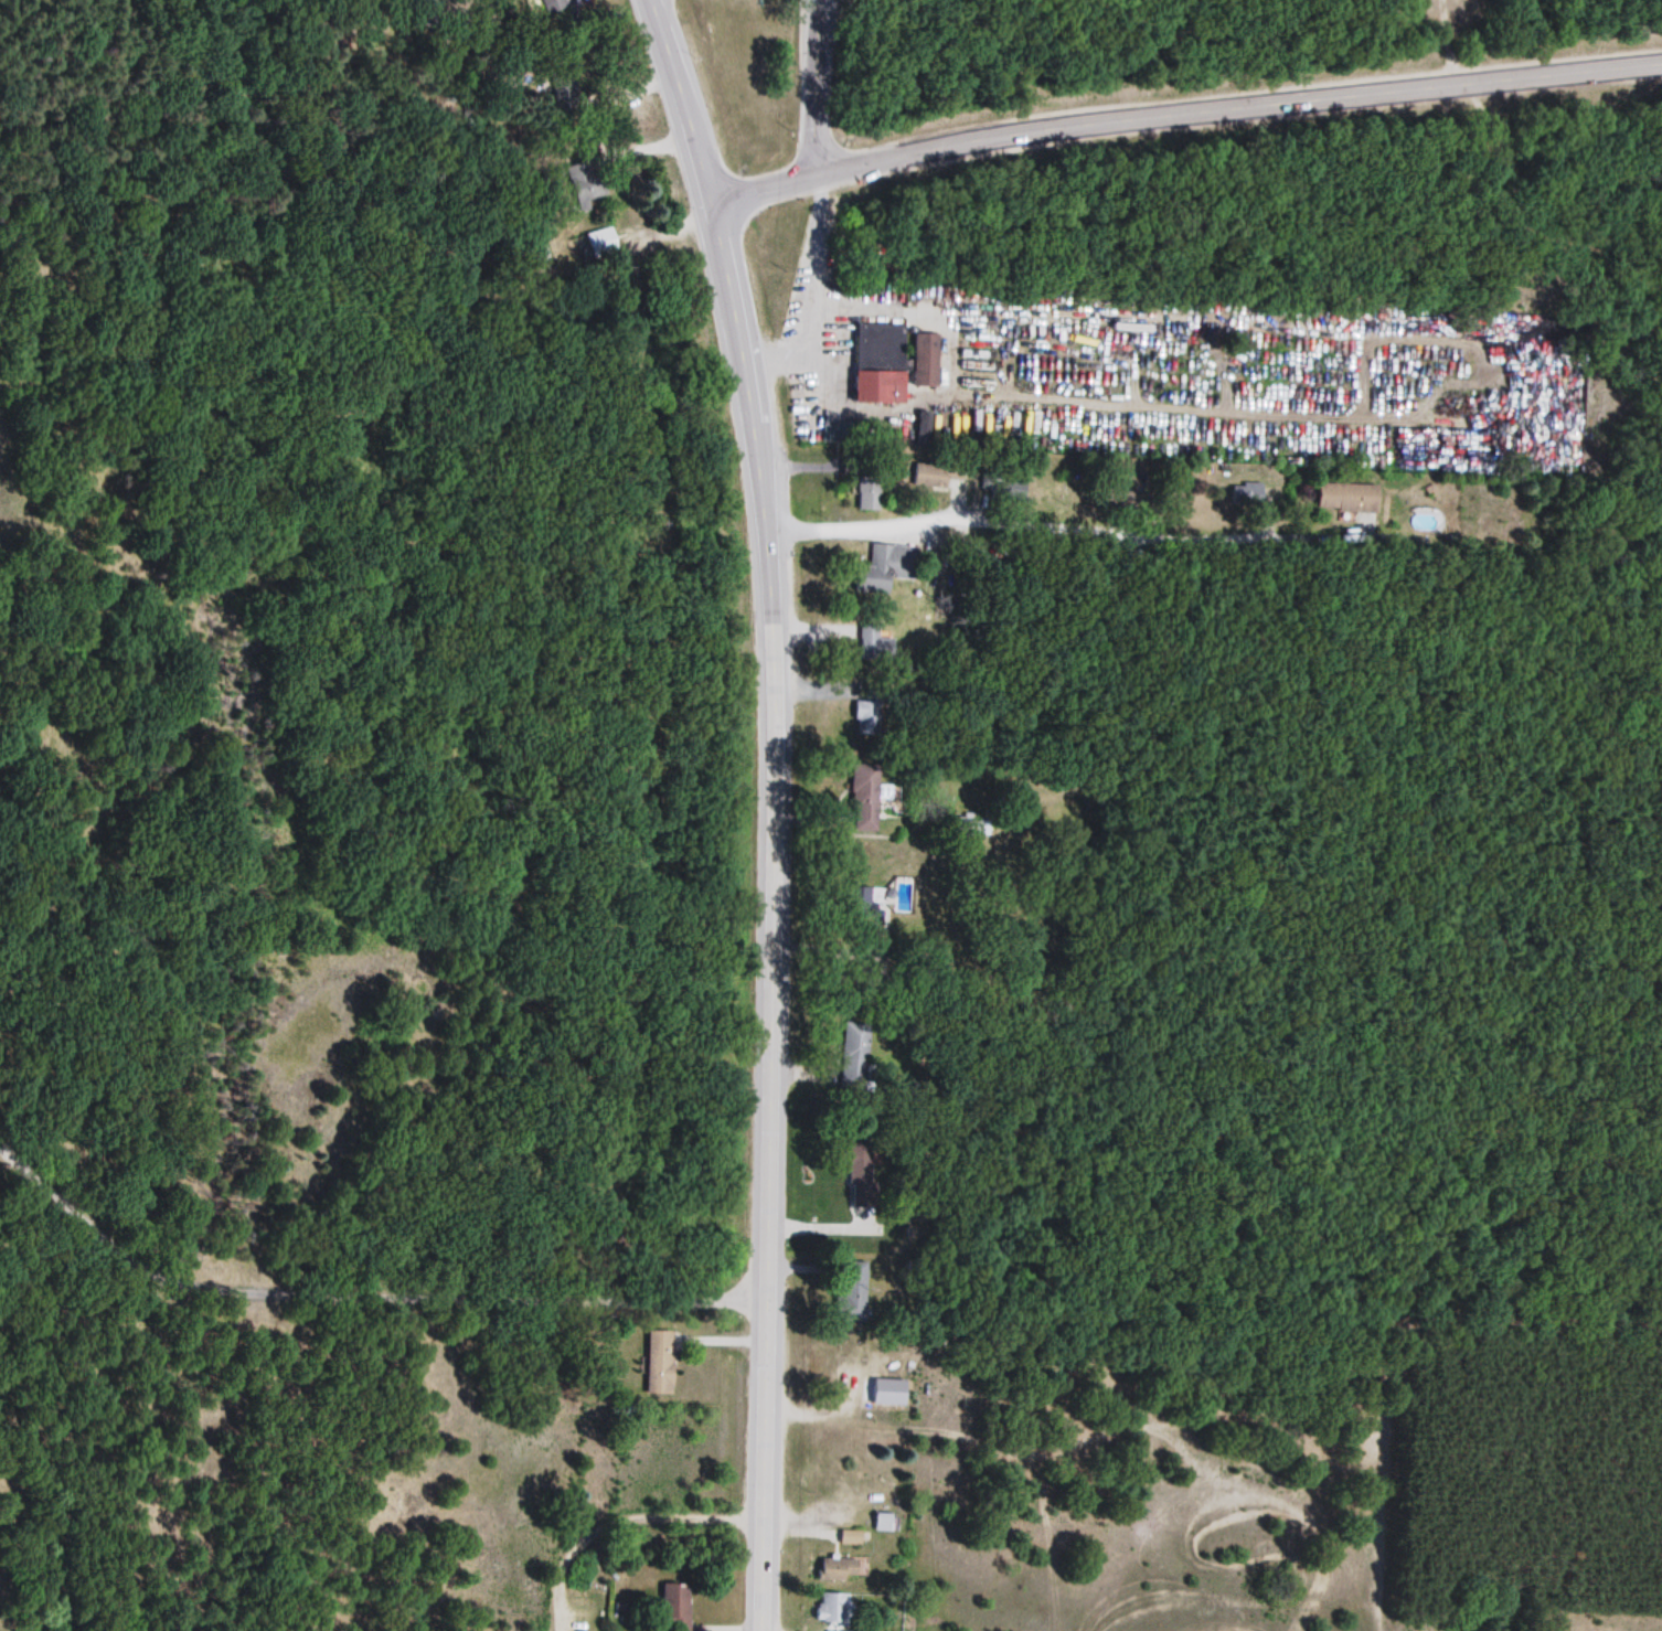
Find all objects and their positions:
building: (548, 3)
road: (812, 90)
road: (678, 103)
road: (1183, 117)
building: (584, 184)
building: (595, 246)
building: (881, 345)
building: (927, 361)
building: (882, 388)
building: (923, 435)
building: (936, 476)
building: (870, 494)
building: (1244, 494)
building: (1349, 498)
road: (1066, 527)
building: (889, 566)
building: (871, 642)
building: (866, 799)
building: (901, 896)
road: (768, 916)
building: (850, 1053)
building: (859, 1175)
building: (850, 1294)
road: (355, 1297)
building: (658, 1363)
building: (883, 1517)
building: (852, 1538)
building: (842, 1569)
building: (676, 1606)
building: (830, 1609)

